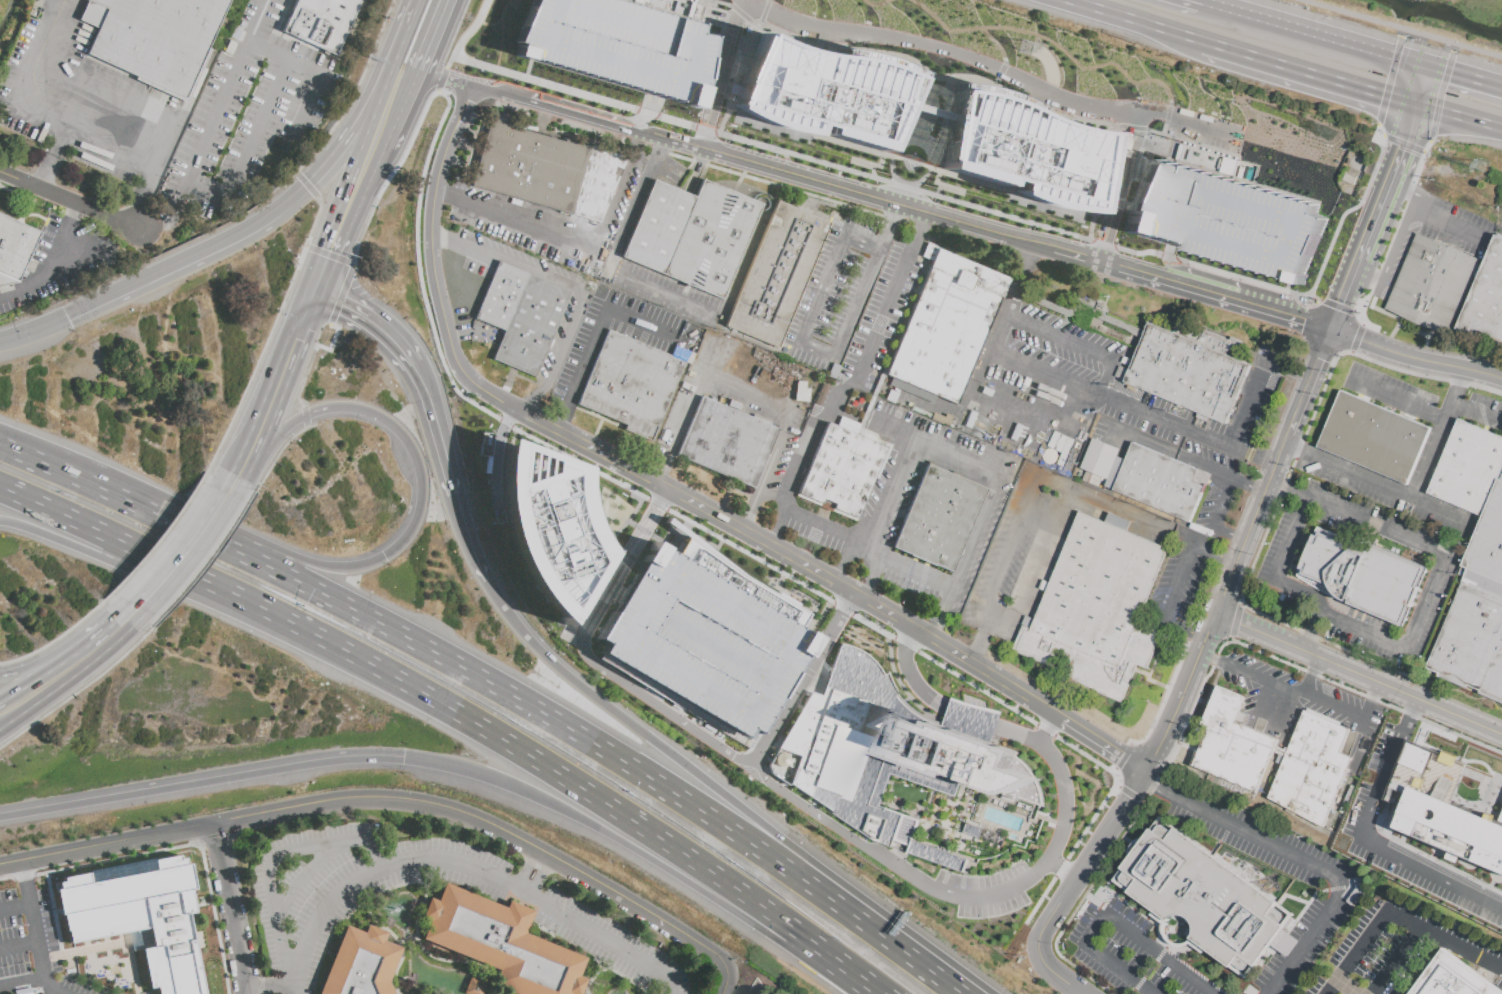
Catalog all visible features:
road: (1199, 1)
road: (415, 3)
road: (875, 4)
road: (712, 5)
parking lot: (693, 9)
road: (764, 11)
road: (741, 14)
road: (499, 20)
road: (1129, 20)
building: (320, 22)
road: (1401, 29)
road: (1400, 33)
road: (1314, 34)
road: (433, 37)
street lamp: (1408, 38)
building: (158, 40)
road: (1049, 41)
road: (458, 44)
road: (995, 44)
road: (501, 45)
building: (617, 46)
parking garage: (617, 46)
road: (396, 48)
road: (1452, 48)
power tower: (1028, 49)
road: (1423, 50)
street lamp: (1457, 52)
road: (1438, 55)
road: (298, 65)
traffic signals: (1427, 66)
road: (995, 69)
street lamp: (454, 70)
road: (526, 70)
road: (1305, 72)
road: (1000, 74)
road: (1464, 77)
road: (970, 78)
street lamp: (513, 81)
road: (1387, 81)
road: (406, 83)
road: (1421, 85)
road: (717, 88)
road: (352, 91)
building: (822, 93)
road: (714, 94)
road: (1438, 96)
street lamp: (565, 97)
road: (948, 97)
parking lot: (89, 101)
traffic signals: (1415, 104)
road: (529, 105)
street lamp: (446, 106)
street lamp: (720, 108)
road: (370, 111)
street lamp: (617, 111)
parking lot: (245, 113)
road: (726, 113)
road: (904, 113)
road: (1458, 116)
road: (383, 118)
road: (1165, 118)
road: (542, 120)
road: (627, 120)
road: (943, 122)
street lamp: (715, 125)
street lamp: (1375, 127)
road: (81, 129)
parking lot: (1198, 130)
street lamp: (687, 132)
road: (917, 136)
road: (562, 137)
street lamp: (724, 140)
street lamp: (1434, 141)
road: (1403, 142)
road: (462, 144)
building: (1021, 152)
road: (1125, 153)
road: (57, 156)
road: (326, 157)
street lamp: (775, 157)
road: (853, 159)
power tower: (1483, 168)
street lamp: (824, 169)
building: (546, 171)
road: (739, 180)
road: (897, 180)
road: (1390, 182)
road: (1104, 183)
street lamp: (875, 184)
road: (1119, 184)
road: (776, 185)
road: (911, 185)
road: (991, 185)
road: (306, 186)
road: (906, 188)
road: (958, 190)
road: (1410, 192)
road: (200, 196)
road: (31, 199)
road: (71, 200)
road: (1113, 201)
street lamp: (1356, 201)
road: (813, 203)
road: (1348, 210)
road: (163, 211)
street lamp: (1399, 211)
street lamp: (980, 215)
road: (343, 217)
building: (1223, 219)
parking garage: (1223, 219)
parking lot: (547, 221)
road: (1452, 223)
building: (658, 227)
street lamp: (1029, 228)
road: (1393, 230)
road: (987, 235)
parking lot: (1433, 235)
road: (572, 238)
building: (712, 239)
street lamp: (415, 242)
street lamp: (1079, 242)
road: (1395, 246)
street lamp: (1338, 248)
building: (15, 249)
road: (329, 255)
road: (189, 256)
street lamp: (1131, 257)
road: (617, 258)
parking lot: (66, 263)
street lamp: (294, 264)
street lamp: (852, 265)
street lamp: (1377, 265)
road: (56, 268)
road: (1175, 269)
building: (1409, 273)
building: (777, 275)
building: (1425, 280)
road: (576, 286)
building: (1450, 291)
traffic signals: (316, 292)
parking lot: (670, 294)
parking lot: (839, 294)
road: (1348, 294)
road: (341, 296)
street lamp: (1313, 298)
building: (1485, 298)
street lamp: (425, 303)
street lamp: (1353, 304)
street lamp: (1356, 313)
traffic signals: (66, 315)
building: (522, 316)
road: (371, 317)
road: (1397, 317)
road: (812, 321)
building: (946, 327)
road: (1392, 329)
traffic signals: (1335, 330)
parking lot: (877, 332)
road: (34, 333)
parking lot: (565, 335)
street lamp: (822, 336)
road: (1062, 336)
road: (1355, 336)
road: (267, 337)
road: (596, 337)
building: (1207, 337)
parking lot: (661, 342)
street lamp: (1339, 356)
road: (1417, 359)
building: (1186, 373)
road: (508, 379)
road: (527, 380)
street lamp: (513, 384)
building: (630, 384)
road: (280, 385)
road: (848, 389)
building: (1053, 389)
building: (801, 392)
road: (1106, 395)
parking lot: (760, 396)
road: (1458, 396)
road: (755, 400)
road: (1040, 401)
road: (298, 402)
road: (1255, 407)
parking lot: (1106, 409)
road: (317, 413)
road: (1478, 415)
road: (594, 416)
road: (597, 427)
street lamp: (366, 428)
road: (437, 428)
building: (1373, 437)
building: (727, 442)
road: (1149, 442)
street lamp: (294, 443)
road: (271, 446)
road: (1299, 450)
street lamp: (572, 456)
parking lot: (1322, 459)
road: (1428, 465)
building: (1467, 468)
building: (842, 471)
road: (1277, 471)
road: (1001, 474)
parking lot: (889, 475)
road: (891, 479)
street lamp: (618, 480)
building: (1157, 481)
road: (1285, 481)
road: (1250, 484)
street lamp: (261, 490)
road: (1290, 490)
road: (728, 493)
road: (745, 494)
road: (639, 495)
road: (678, 497)
road: (1221, 503)
street lamp: (672, 508)
road: (1443, 509)
parking lot: (942, 515)
road: (595, 517)
street lamp: (180, 518)
building: (938, 518)
road: (626, 521)
building: (547, 525)
road: (649, 534)
road: (845, 535)
street lamp: (720, 536)
road: (68, 537)
road: (409, 537)
road: (1230, 538)
road: (469, 539)
road: (156, 541)
building: (1486, 549)
road: (187, 552)
road: (1218, 554)
traffic signals: (388, 559)
street lamp: (763, 559)
road: (207, 561)
road: (1280, 567)
parking lot: (1271, 574)
road: (1438, 575)
building: (1362, 576)
parking lot: (1015, 579)
road: (872, 581)
street lamp: (805, 584)
road: (1032, 584)
road: (781, 592)
road: (807, 603)
road: (1172, 603)
building: (1095, 609)
street lamp: (858, 614)
road: (944, 616)
road: (994, 618)
road: (1234, 620)
road: (1315, 631)
street lamp: (151, 634)
building: (704, 635)
street lamp: (893, 635)
road: (52, 640)
road: (415, 643)
building: (1471, 643)
road: (982, 647)
road: (66, 655)
road: (592, 658)
road: (1215, 659)
street lamp: (942, 664)
road: (1316, 667)
road: (64, 668)
road: (1361, 673)
road: (802, 676)
road: (914, 676)
road: (898, 682)
road: (1309, 685)
road: (412, 690)
street lamp: (986, 690)
road: (1165, 691)
road: (76, 692)
road: (1303, 692)
road: (1376, 693)
road: (1184, 694)
road: (1194, 697)
road: (1267, 700)
parking lot: (1299, 702)
road: (1285, 713)
road: (972, 717)
street lamp: (1030, 718)
street lamp: (517, 724)
road: (1049, 731)
road: (643, 733)
road: (1359, 734)
building: (1232, 743)
street lamp: (1075, 745)
street lamp: (1027, 752)
building: (887, 754)
building: (1416, 757)
traffic signals: (403, 758)
road: (1122, 758)
building: (1310, 768)
road: (200, 781)
street lamp: (625, 793)
road: (1128, 793)
road: (374, 797)
parking lot: (1360, 815)
building: (1500, 817)
building: (1450, 828)
building: (970, 829)
road: (606, 832)
road: (172, 848)
road: (276, 860)
road: (1308, 862)
road: (466, 866)
road: (529, 870)
road: (1085, 870)
road: (1065, 871)
road: (25, 875)
road: (543, 877)
road: (306, 878)
parking lot: (1342, 883)
parking lot: (983, 890)
road: (975, 896)
building: (1202, 897)
road: (15, 905)
road: (233, 907)
road: (1111, 918)
building: (140, 919)
road: (415, 921)
road: (414, 936)
road: (887, 936)
road: (1371, 937)
road: (407, 939)
road: (400, 943)
building: (501, 943)
road: (19, 946)
road: (1463, 948)
road: (38, 949)
parking lot: (1400, 949)
parking lot: (1132, 953)
road: (400, 957)
road: (1400, 961)
building: (361, 964)
road: (834, 967)
road: (616, 972)
road: (727, 972)
building: (1450, 978)
road: (590, 980)
road: (1066, 981)
road: (22, 984)
road: (270, 988)
road: (643, 991)
road: (493, 992)

